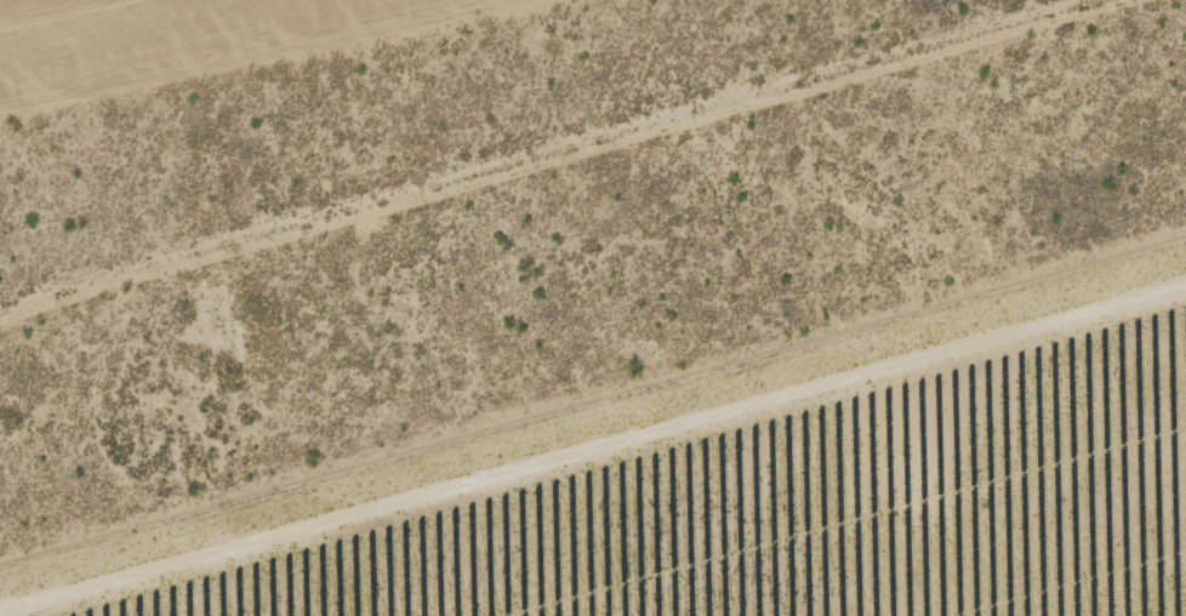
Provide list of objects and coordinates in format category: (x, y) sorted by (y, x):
solar farm: (741, 486)

